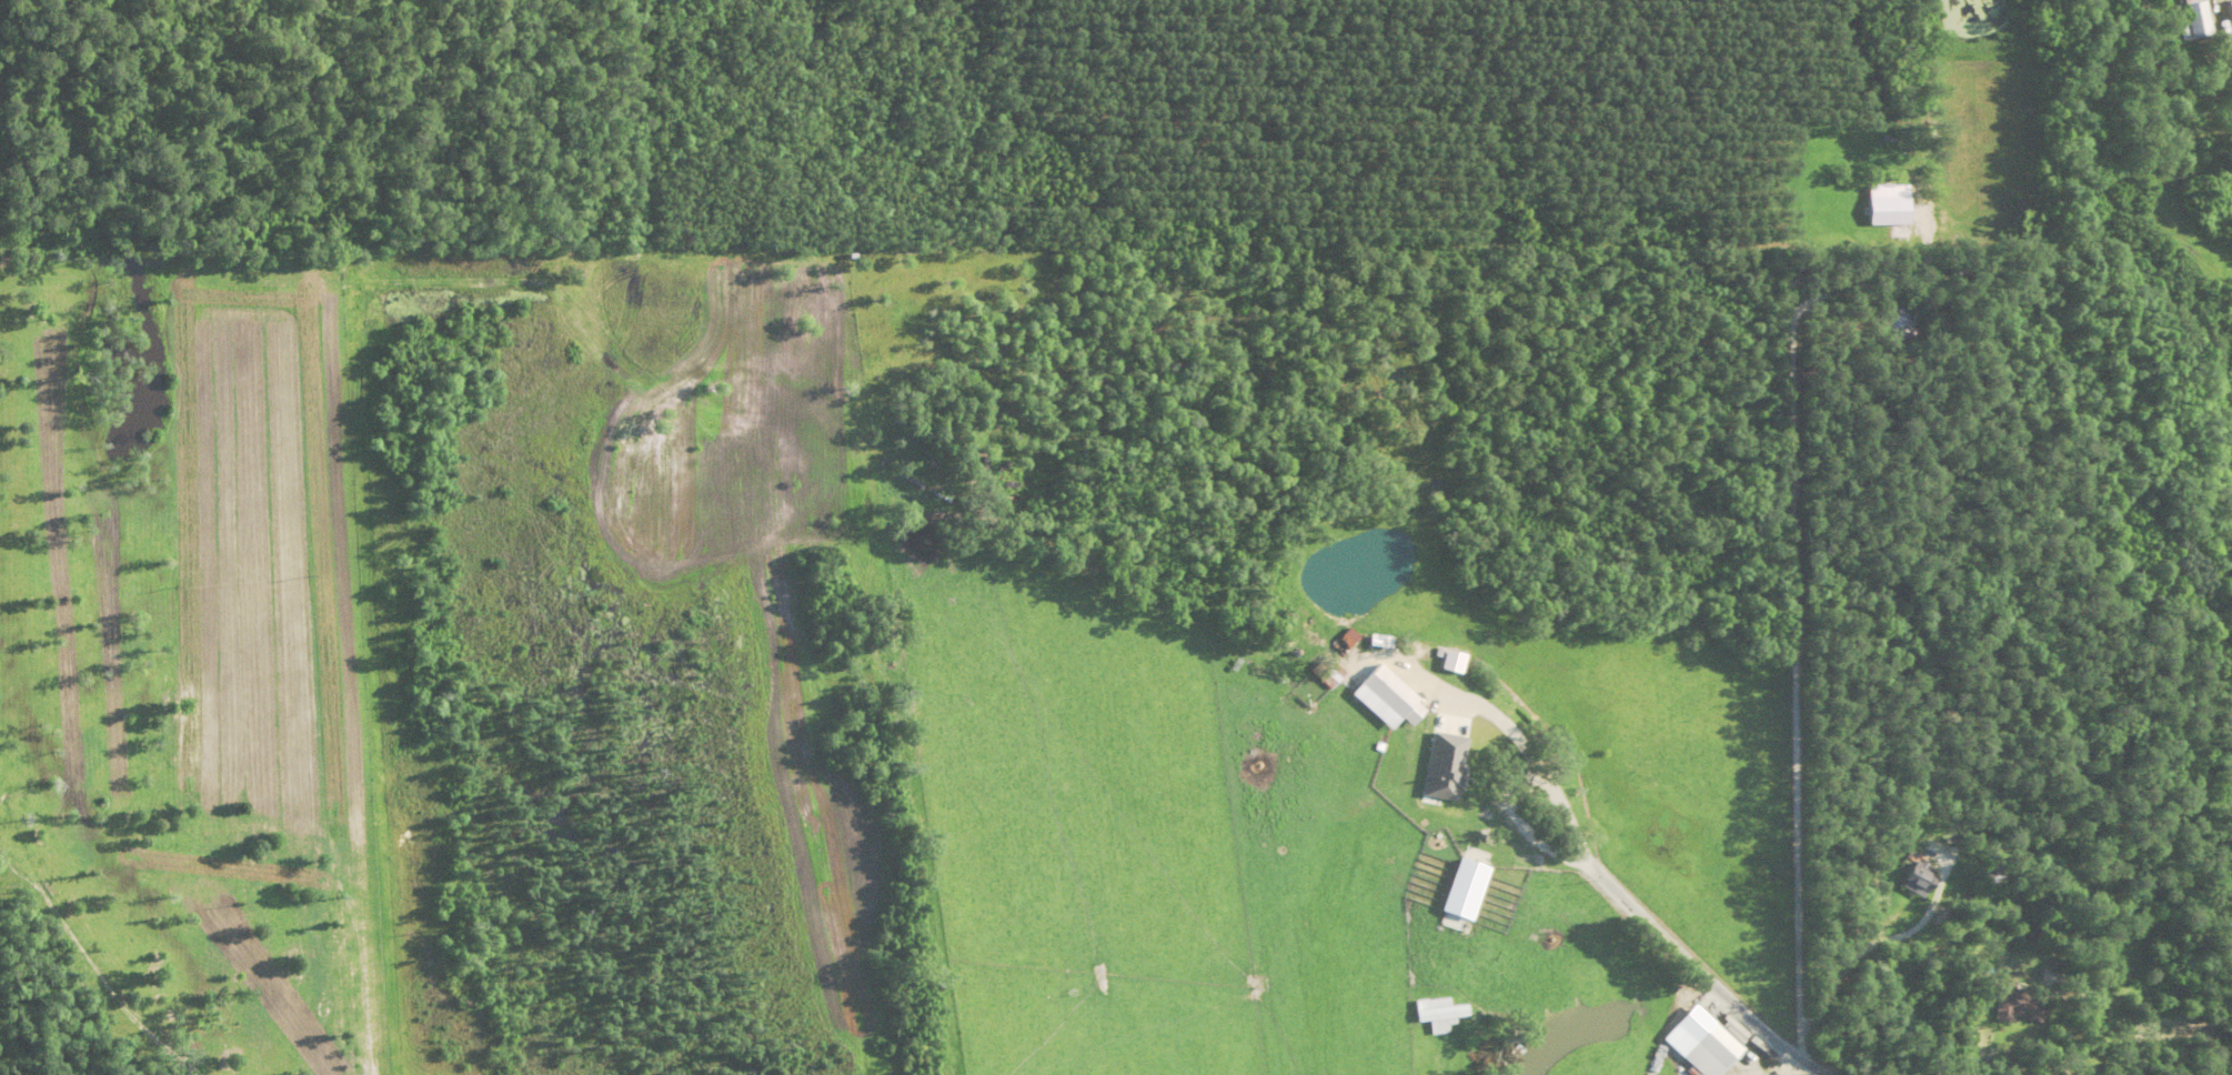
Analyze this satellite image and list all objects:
road: (1541, 780)
road: (1699, 969)

